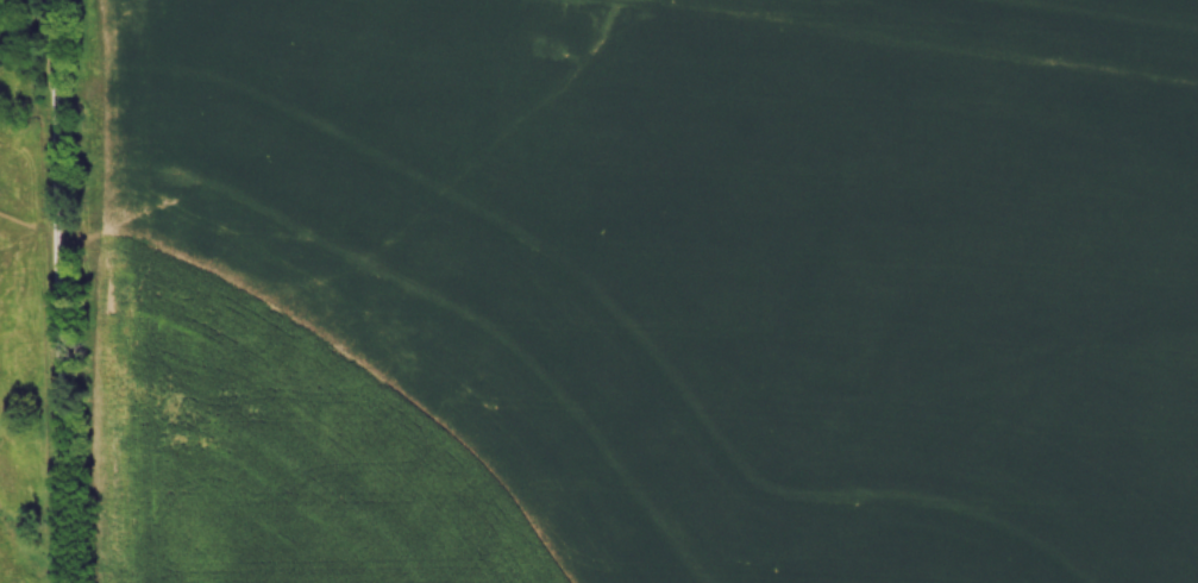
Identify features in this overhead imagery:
road: (51, 6)
road: (58, 297)

